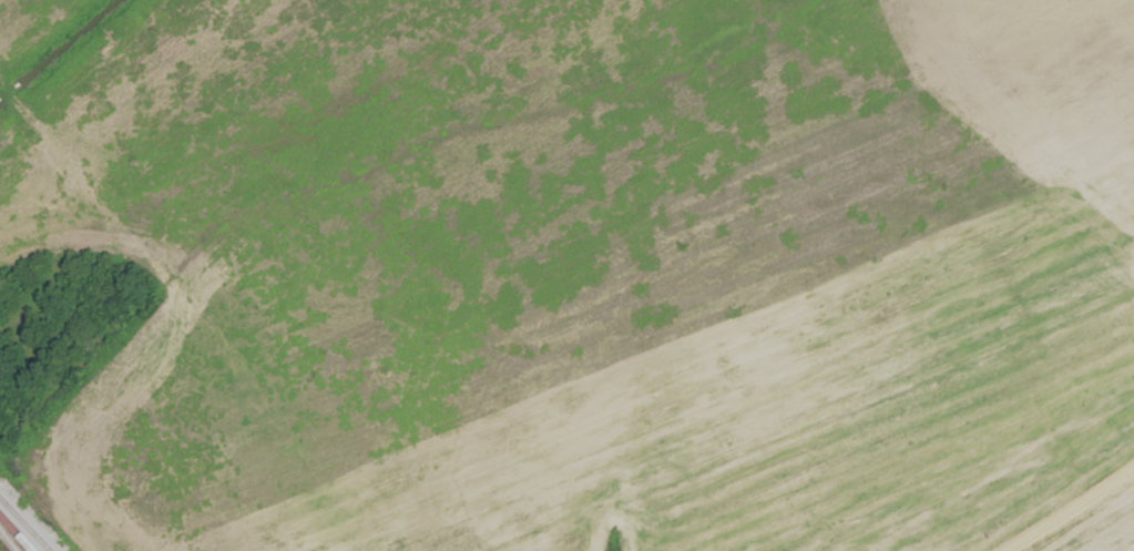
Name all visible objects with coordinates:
road: (1066, 507)
railway: (24, 524)
railway: (17, 532)
railway: (3, 547)

